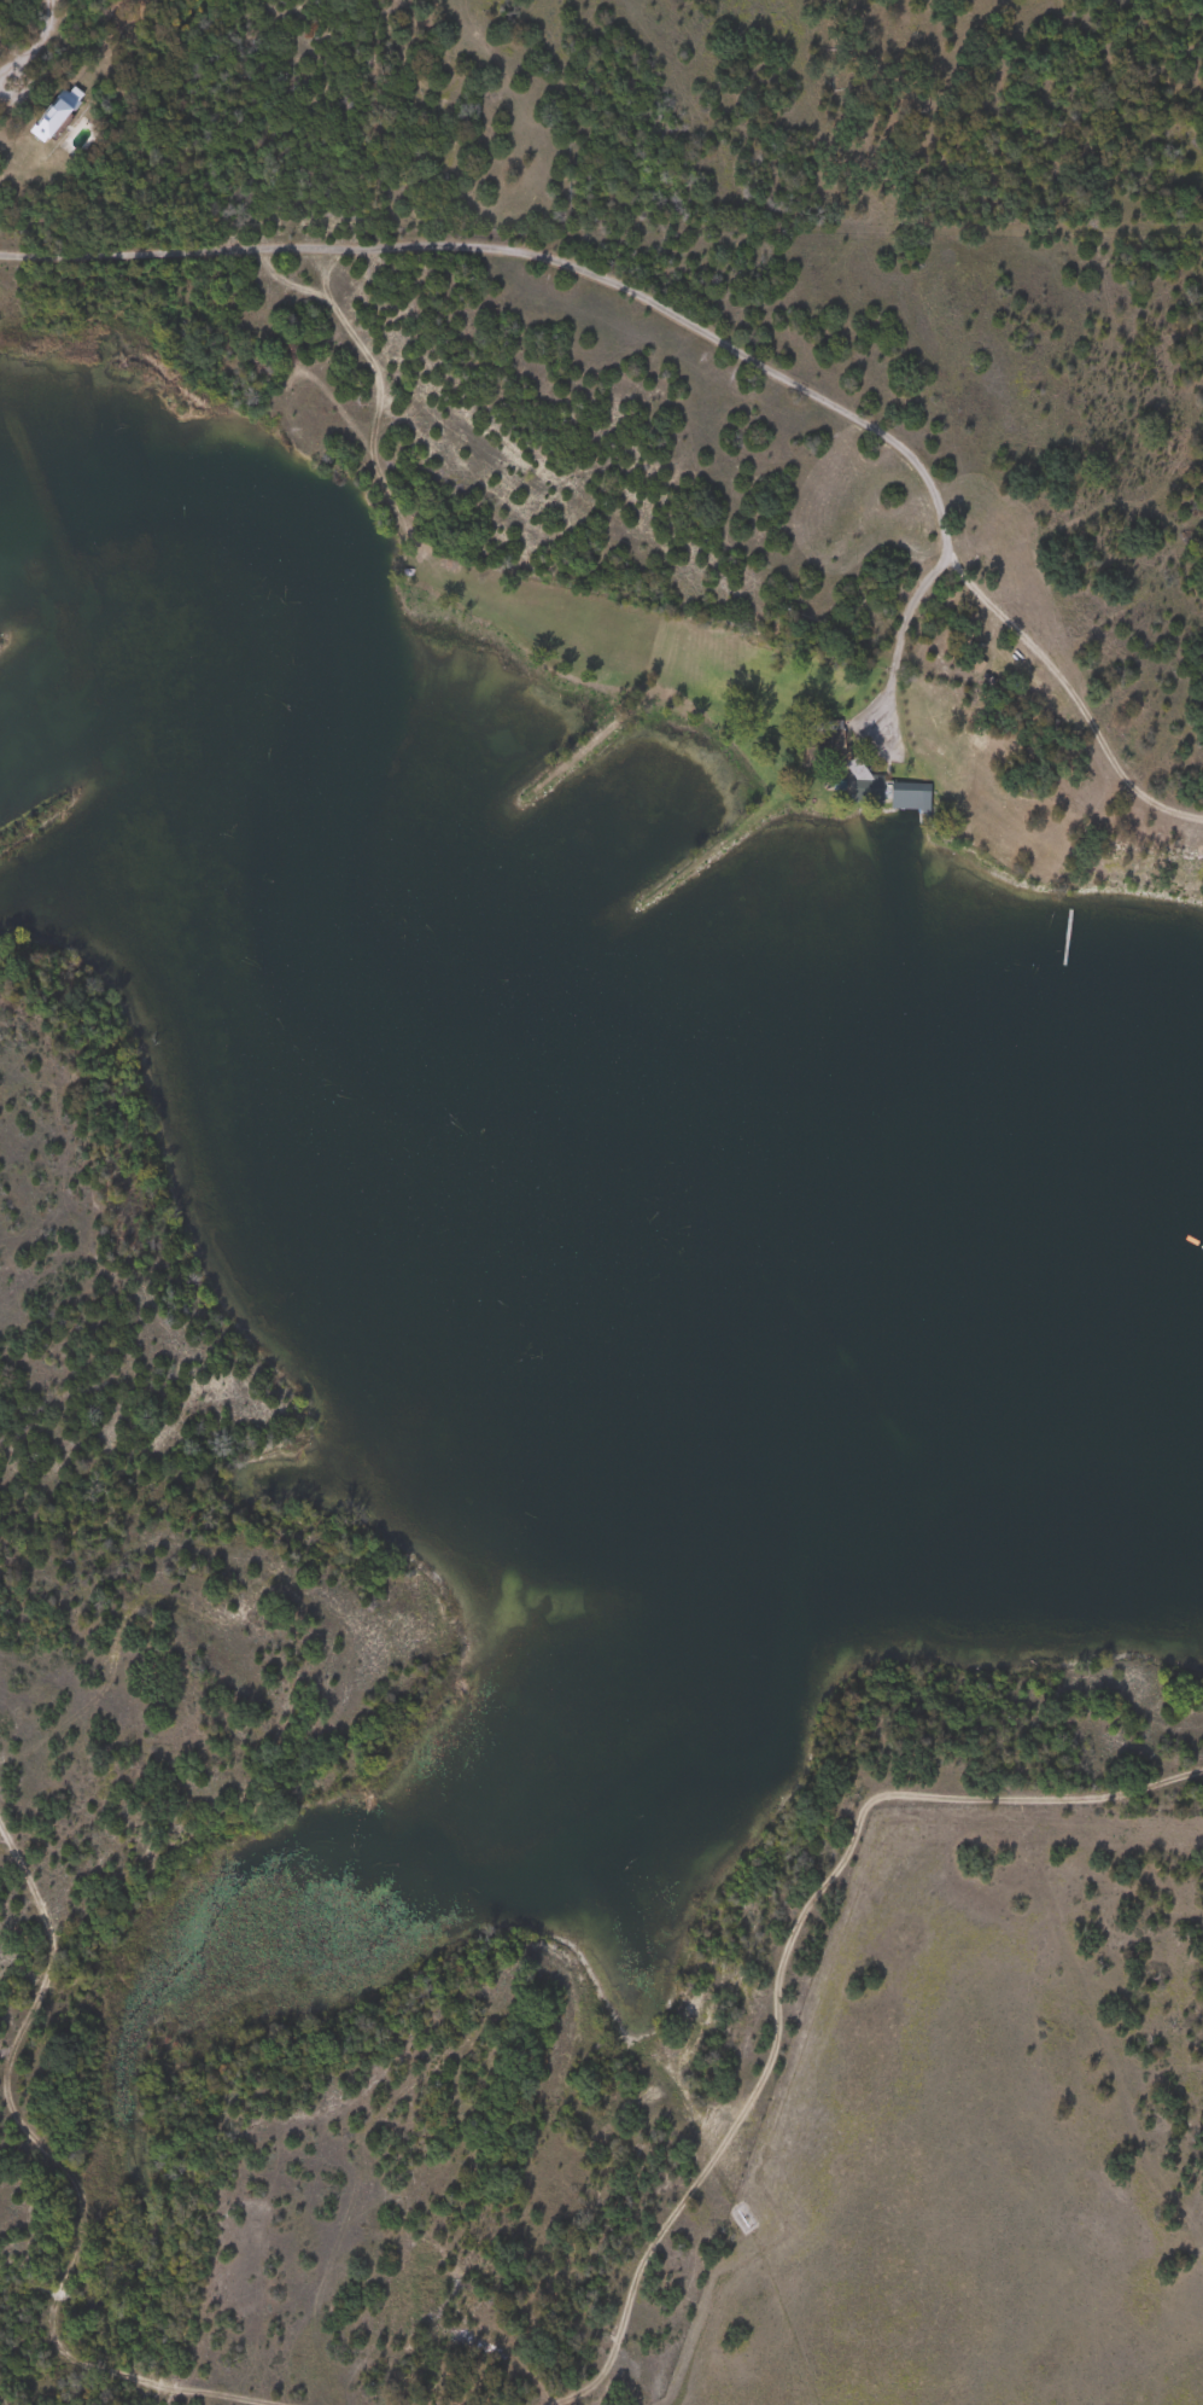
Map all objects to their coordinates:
road: (37, 17)
building: (59, 117)
road: (439, 248)
road: (934, 534)
building: (916, 794)

